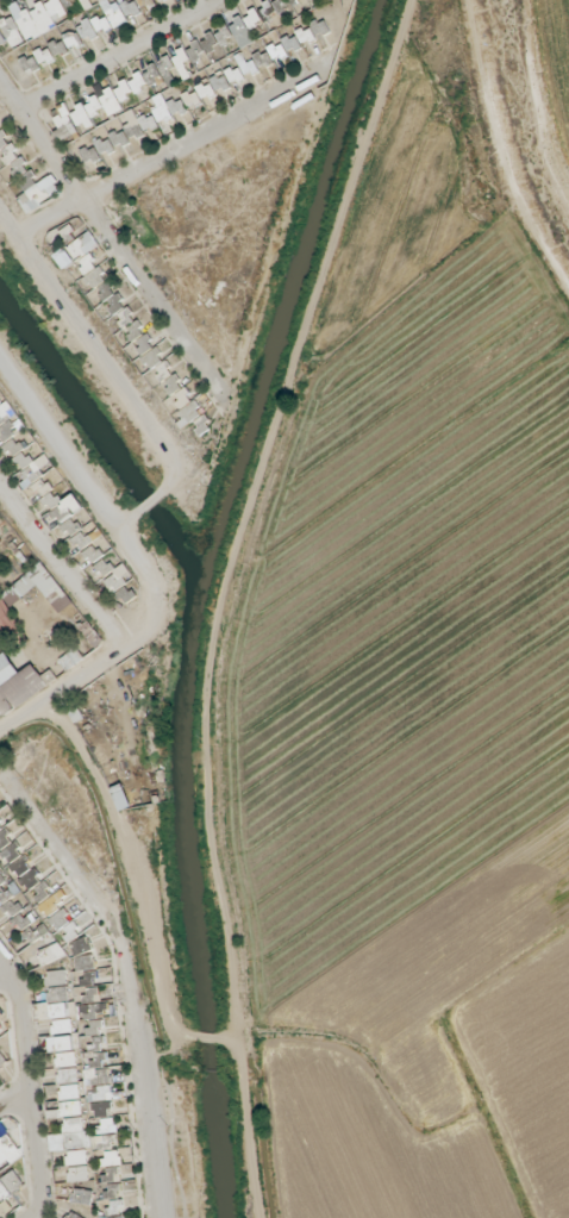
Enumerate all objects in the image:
building: (90, 4)
road: (118, 54)
road: (501, 150)
road: (167, 156)
road: (107, 236)
building: (88, 245)
road: (321, 279)
building: (6, 674)
building: (121, 800)
building: (64, 1079)
building: (82, 1201)

